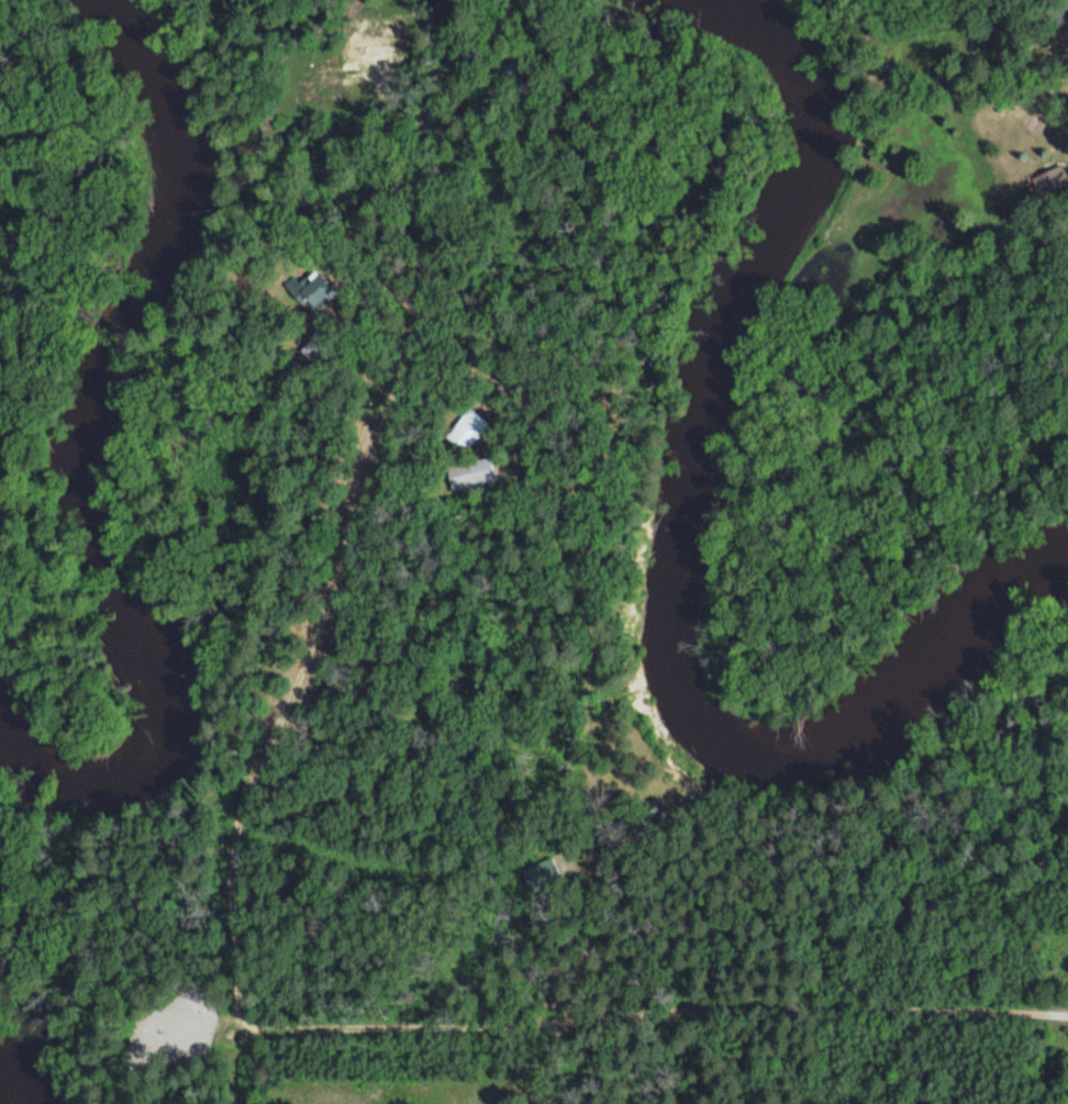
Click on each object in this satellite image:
building: (1048, 179)
building: (309, 290)
building: (314, 346)
building: (466, 428)
river: (87, 450)
building: (469, 472)
river: (678, 546)
road: (316, 565)
road: (563, 616)
road: (260, 832)
building: (538, 873)
road: (802, 994)
river: (14, 1079)

